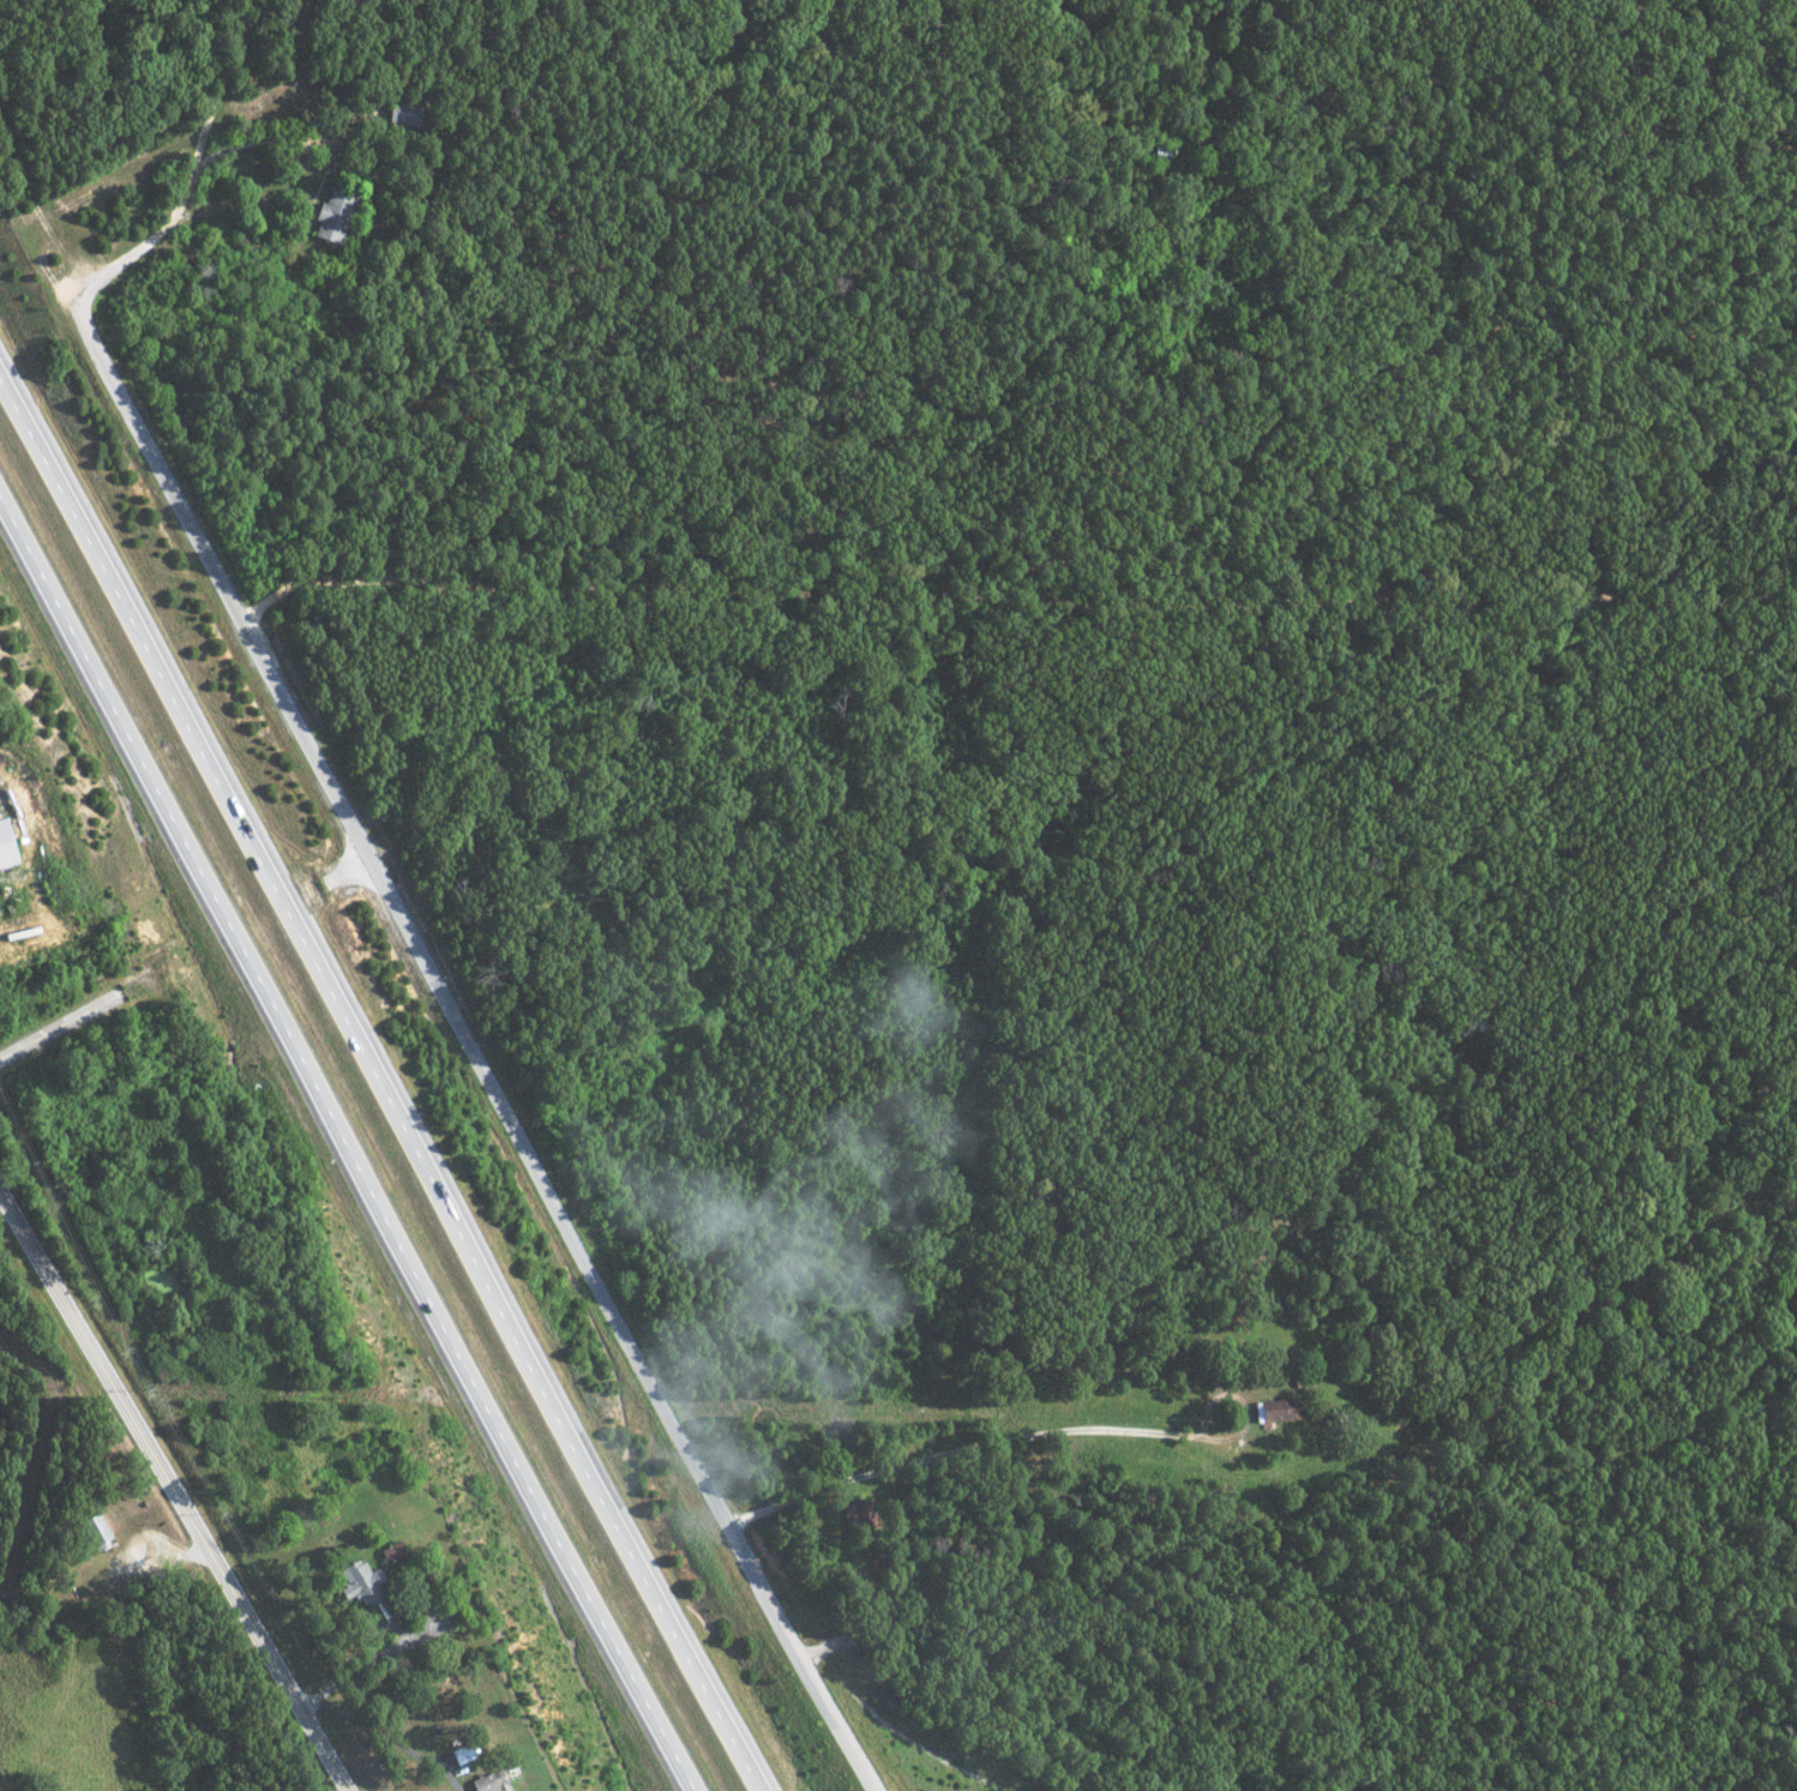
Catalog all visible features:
road: (221, 89)
building: (404, 113)
road: (257, 137)
building: (331, 216)
building: (4, 851)
road: (435, 974)
road: (52, 1024)
road: (380, 1093)
road: (347, 1147)
building: (1275, 1410)
road: (958, 1443)
road: (173, 1490)
building: (92, 1528)
road: (157, 1558)
building: (359, 1585)
building: (485, 1784)

